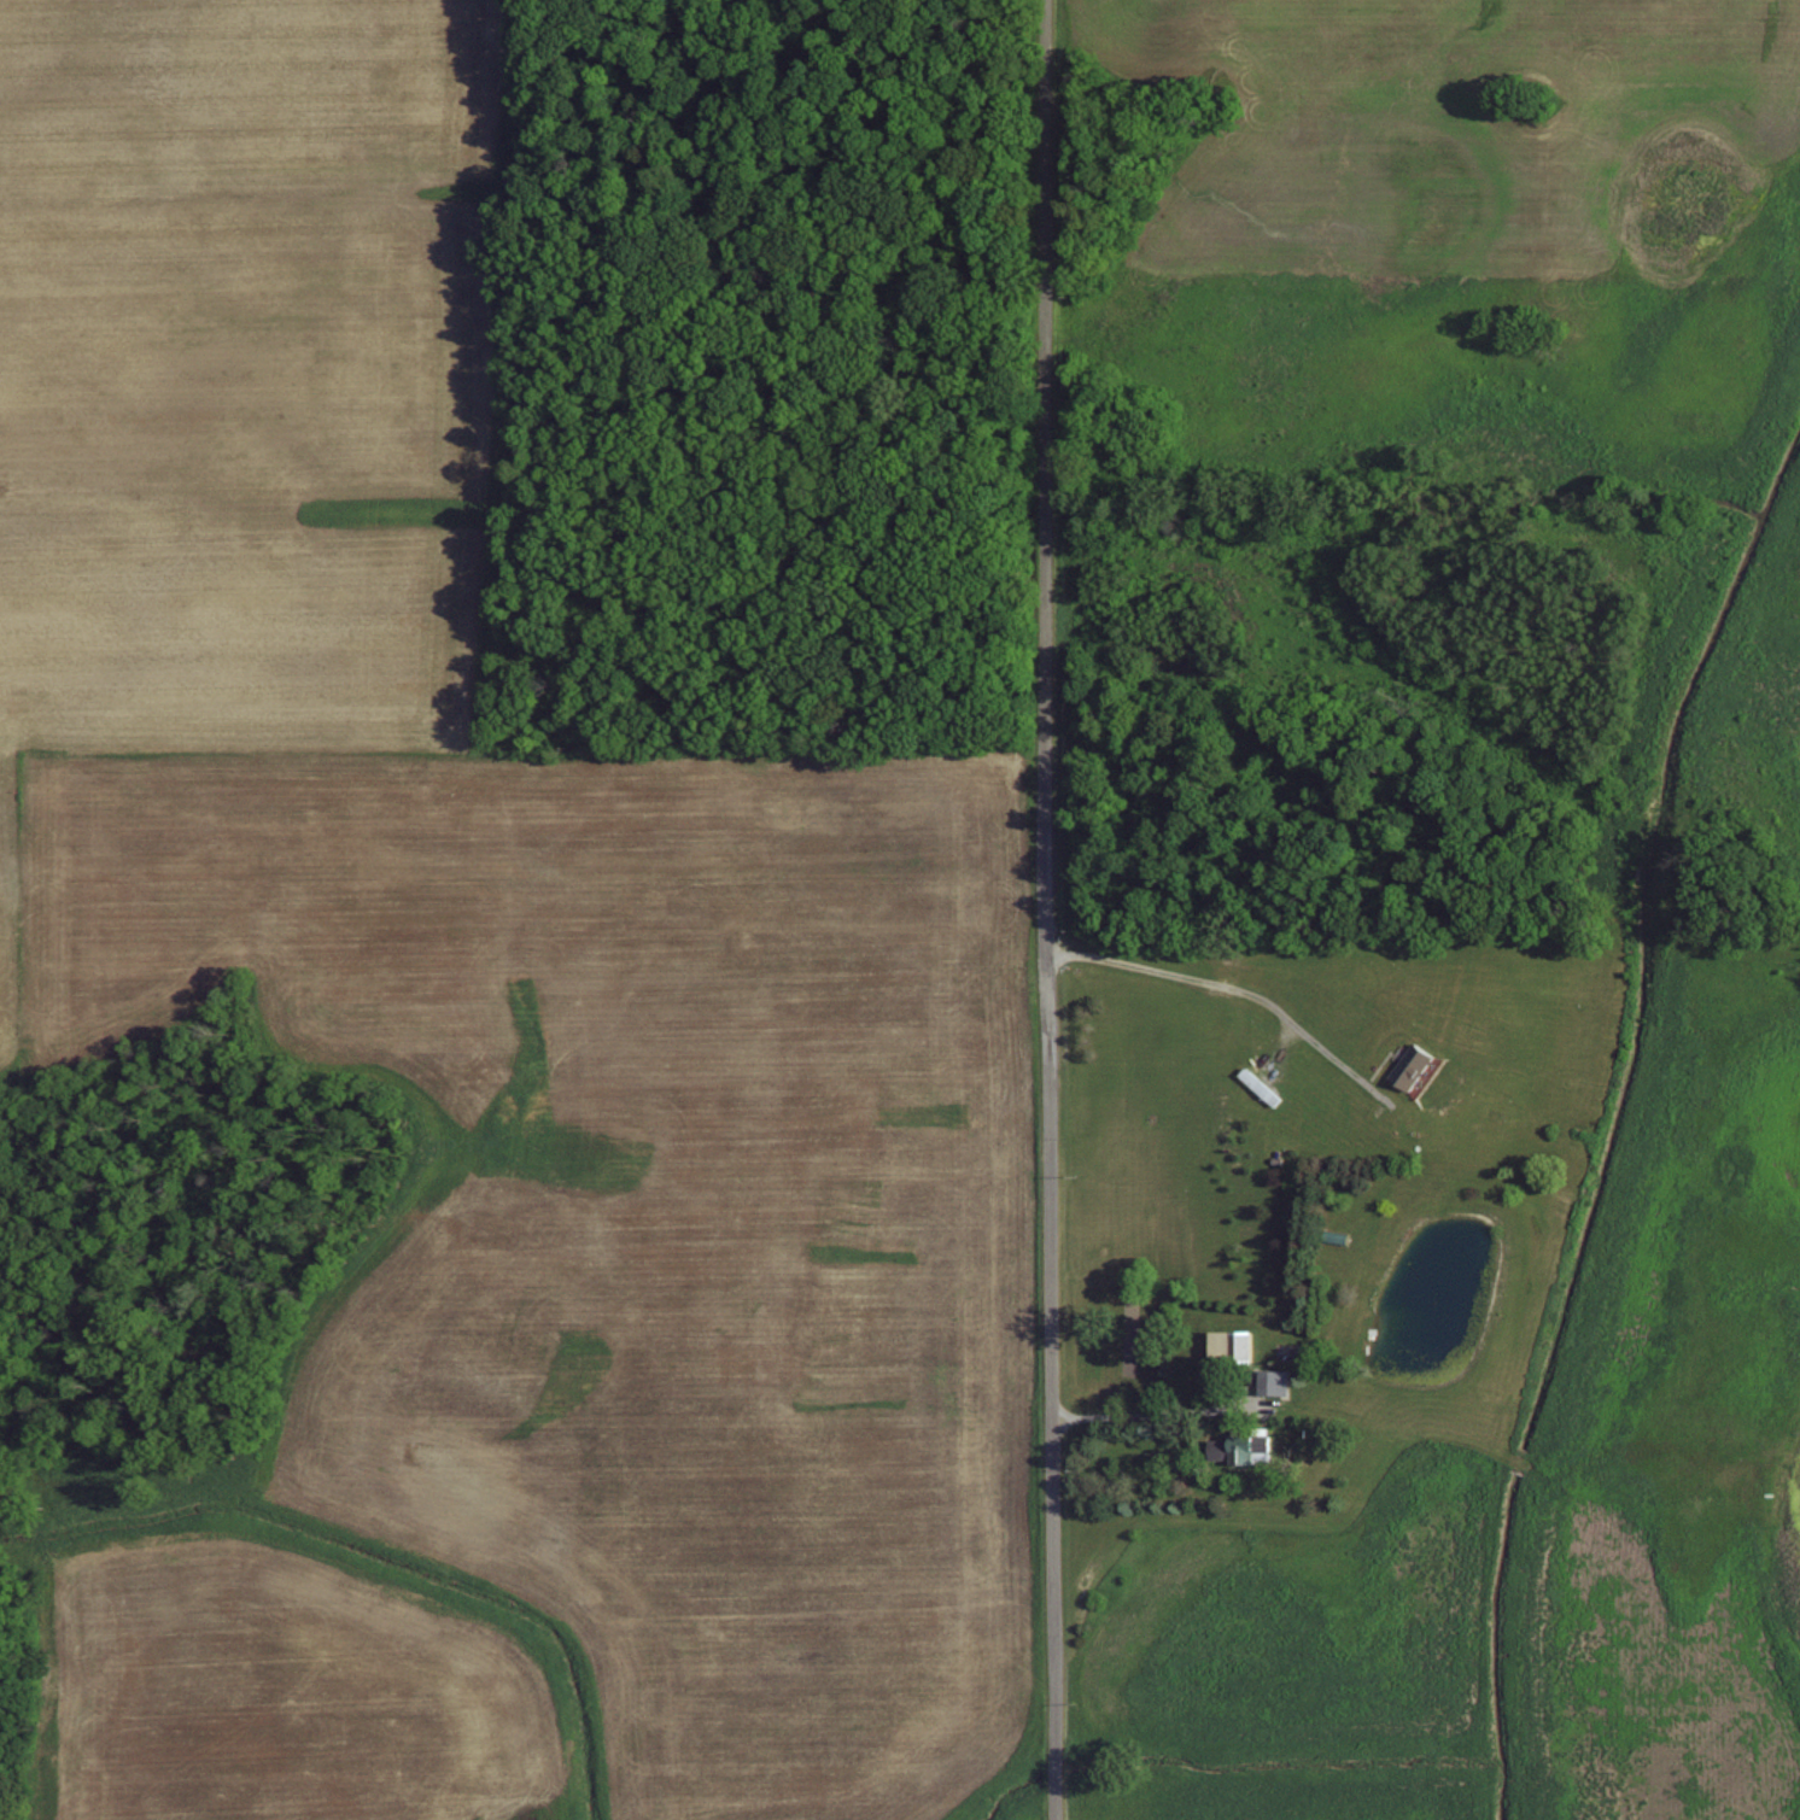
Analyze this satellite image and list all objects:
road: (1044, 909)
road: (1220, 988)
road: (1284, 1044)
building: (1409, 1065)
building: (1270, 1379)
road: (1147, 1412)
building: (1234, 1444)

